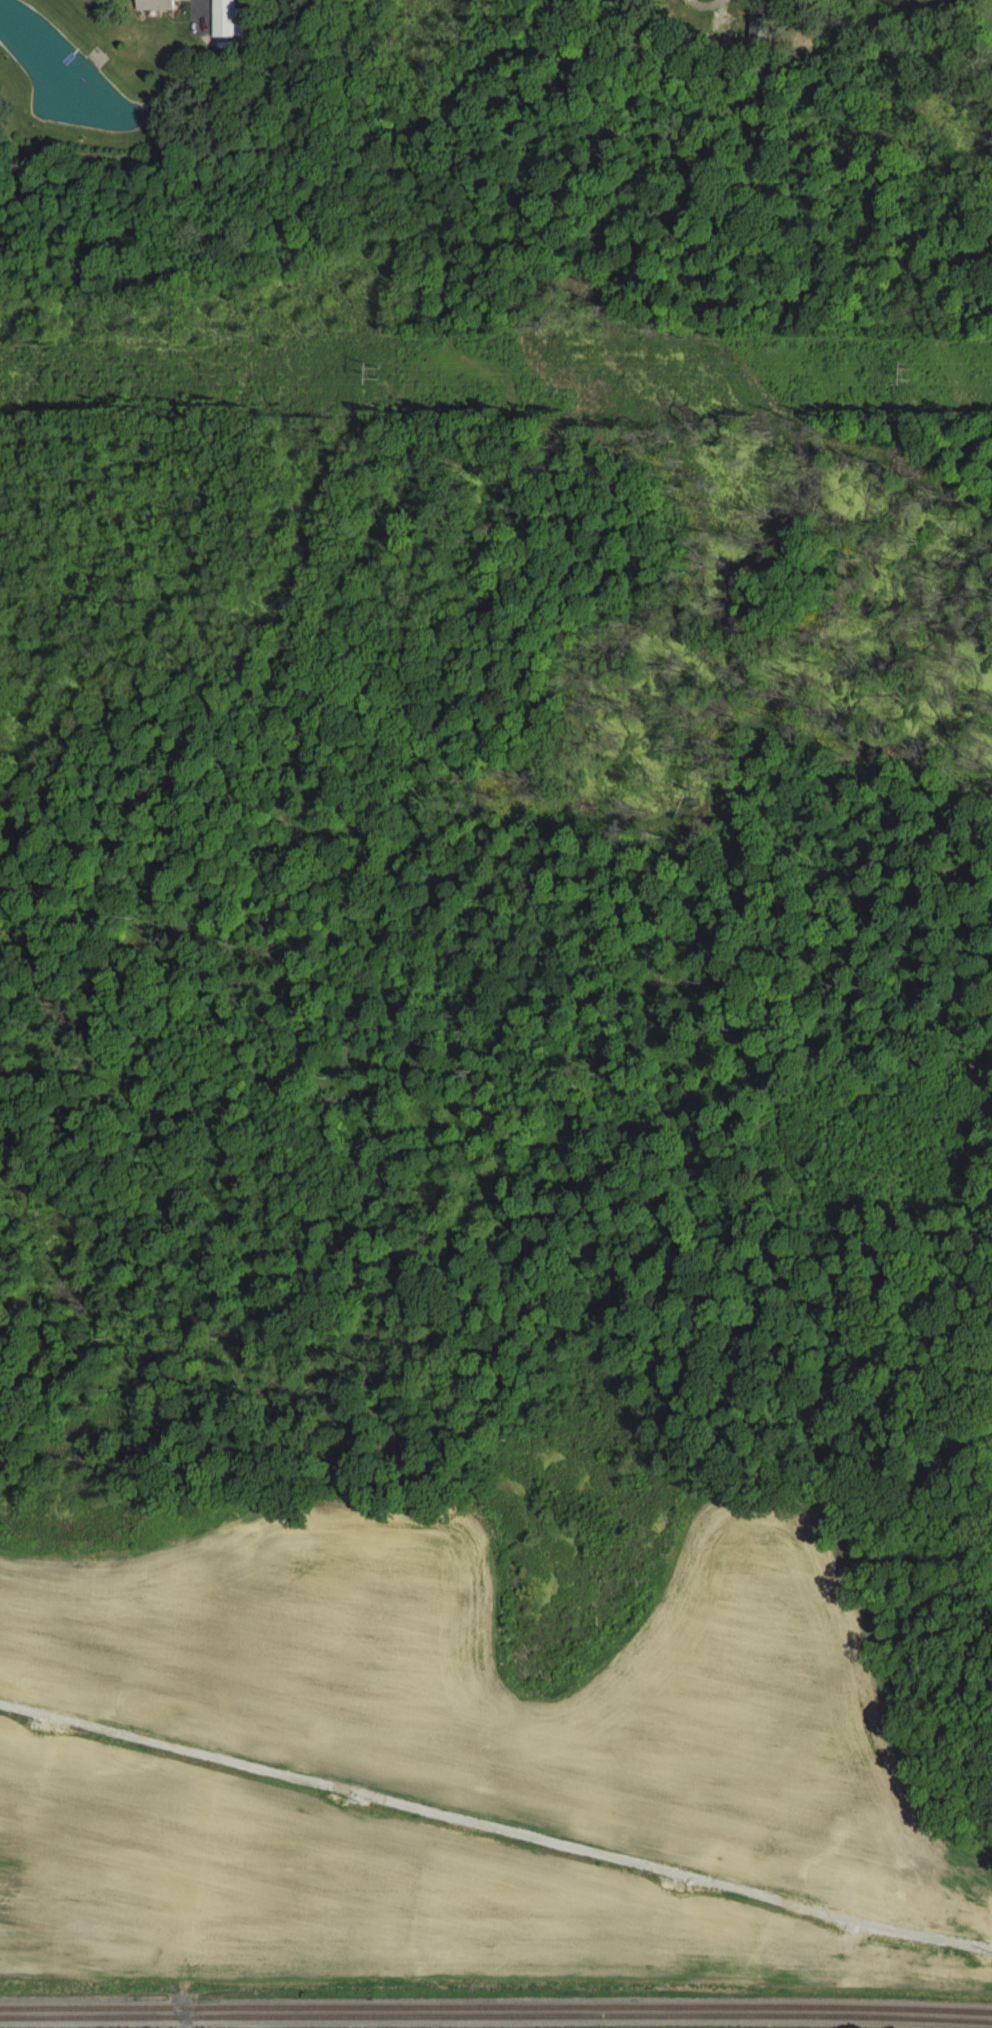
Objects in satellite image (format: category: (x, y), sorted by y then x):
building: (152, 4)
road: (208, 6)
building: (224, 17)
railway: (496, 2007)
railway: (496, 2016)

